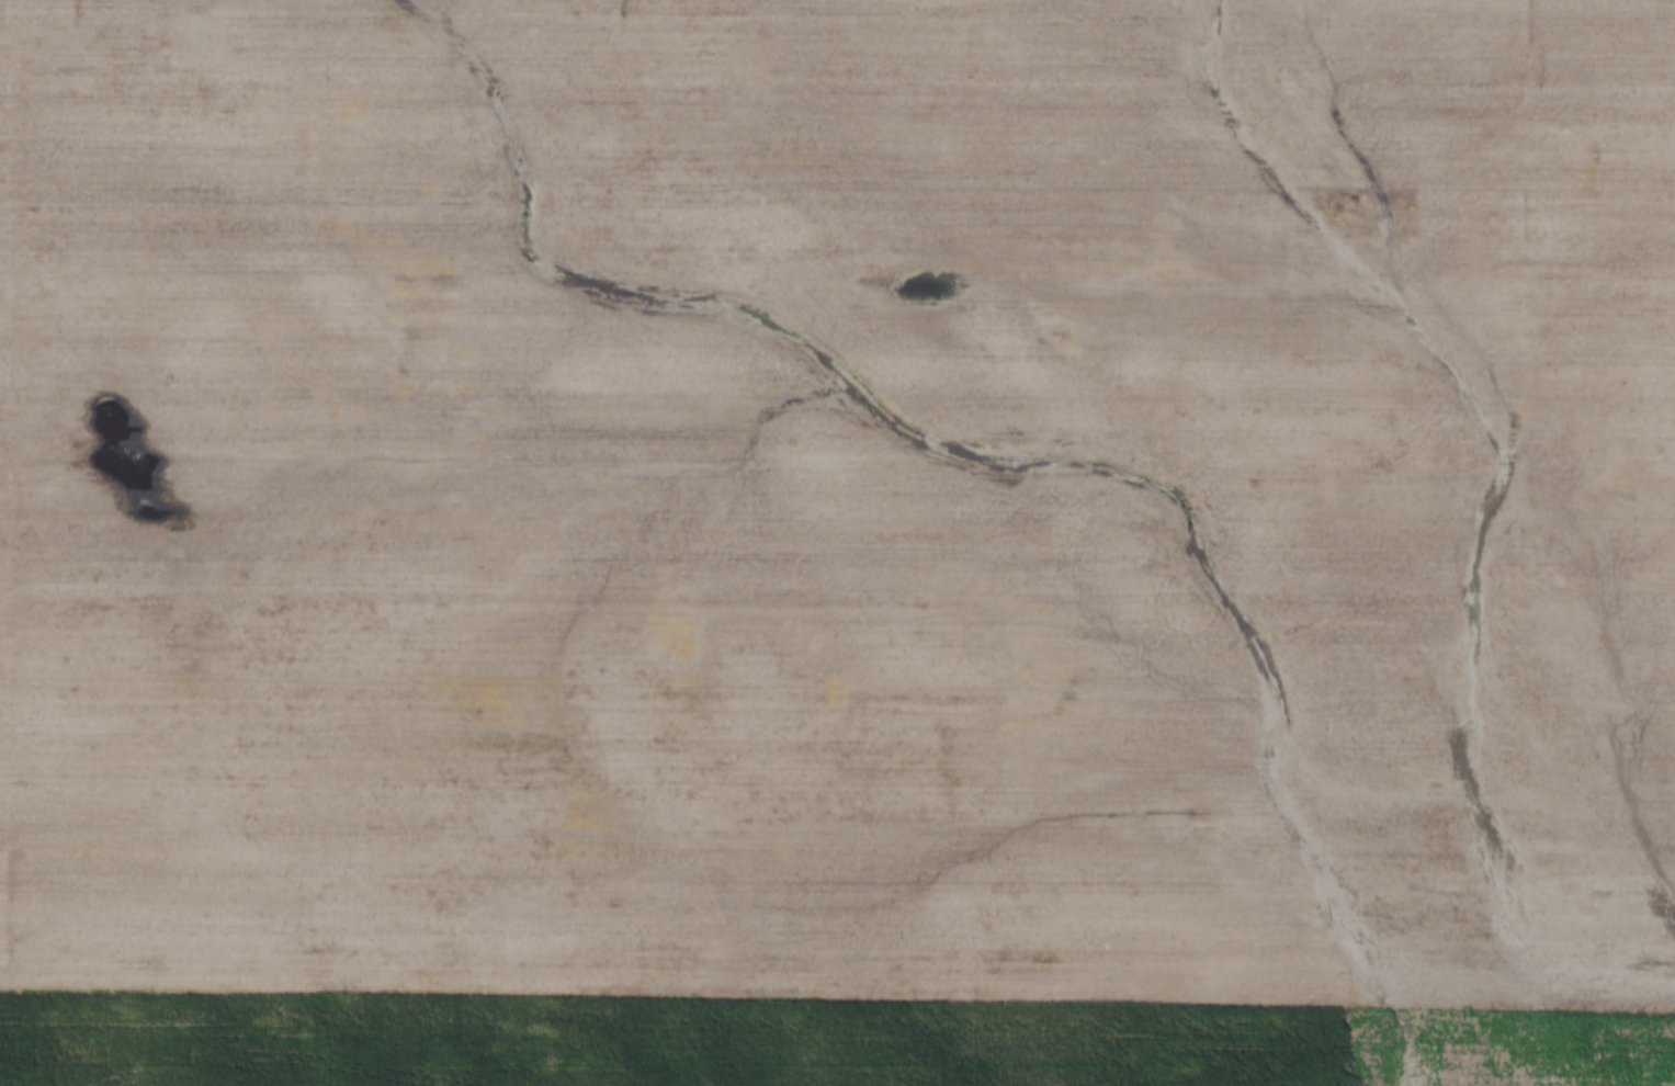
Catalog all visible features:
road: (0, 308)
road: (837, 996)

